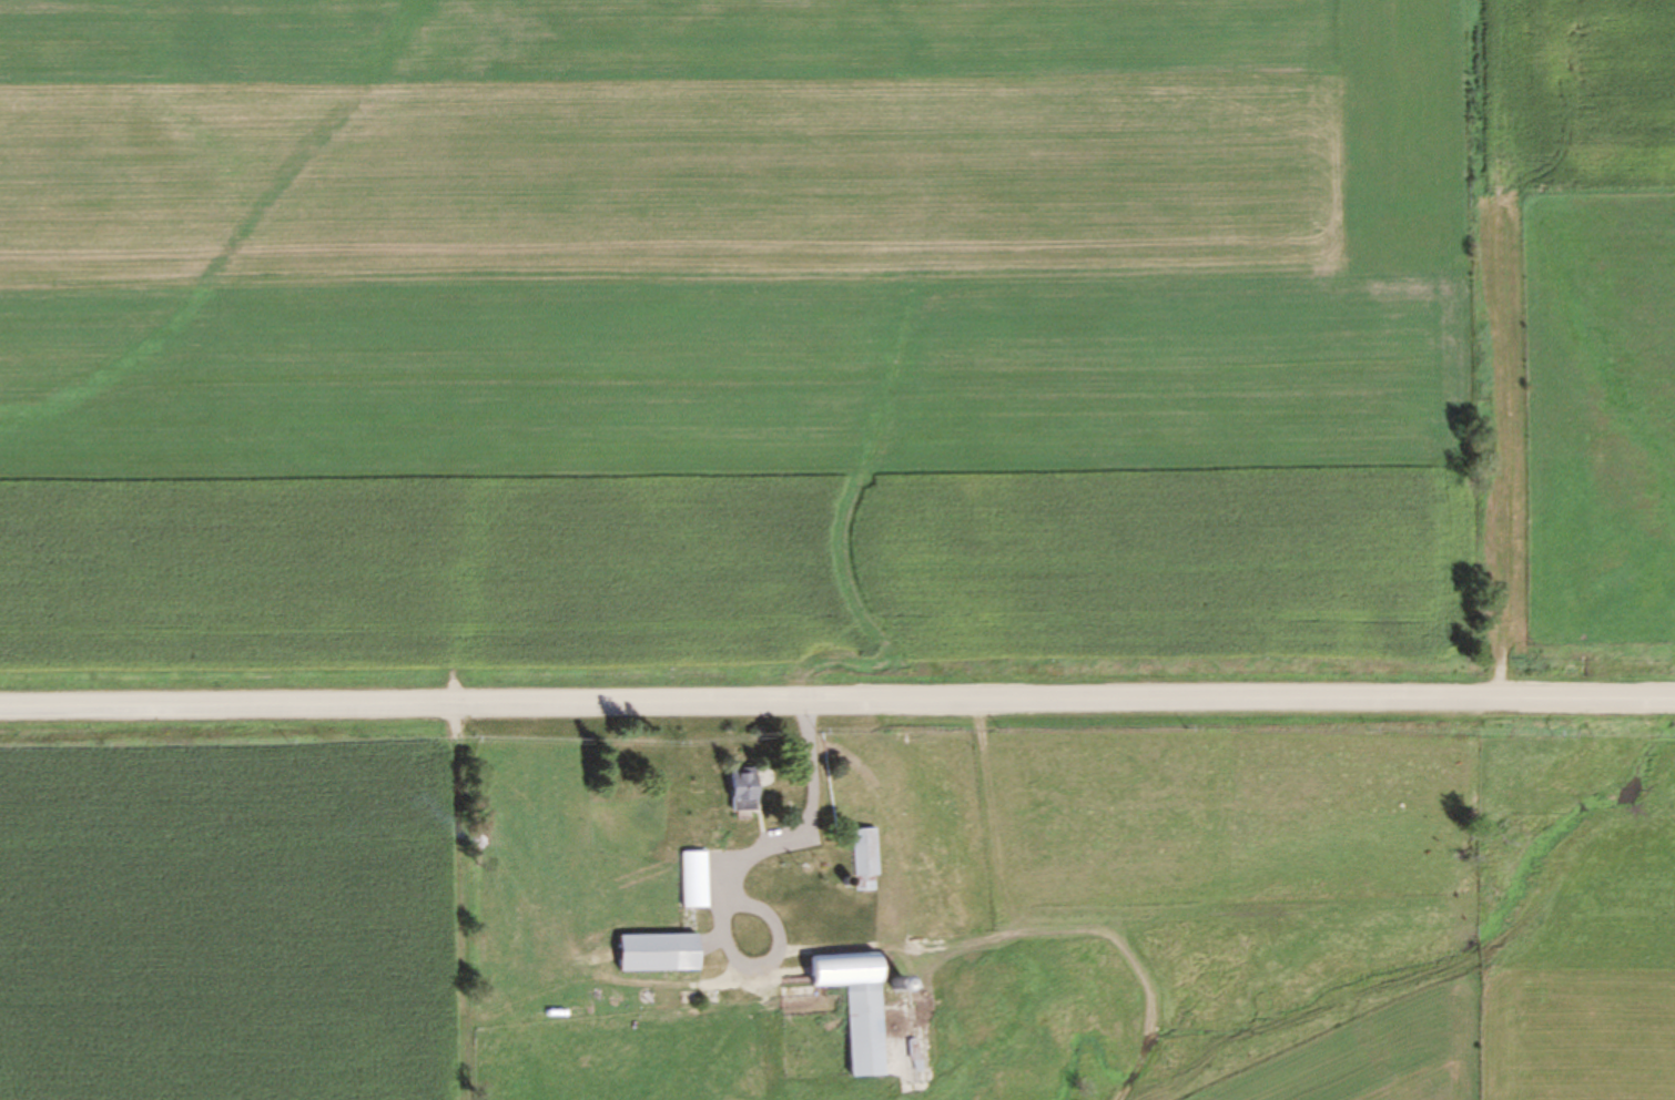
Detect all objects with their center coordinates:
road: (836, 704)
building: (734, 790)
building: (643, 812)
building: (859, 860)
building: (688, 879)
building: (812, 931)
building: (648, 953)
building: (847, 1004)

